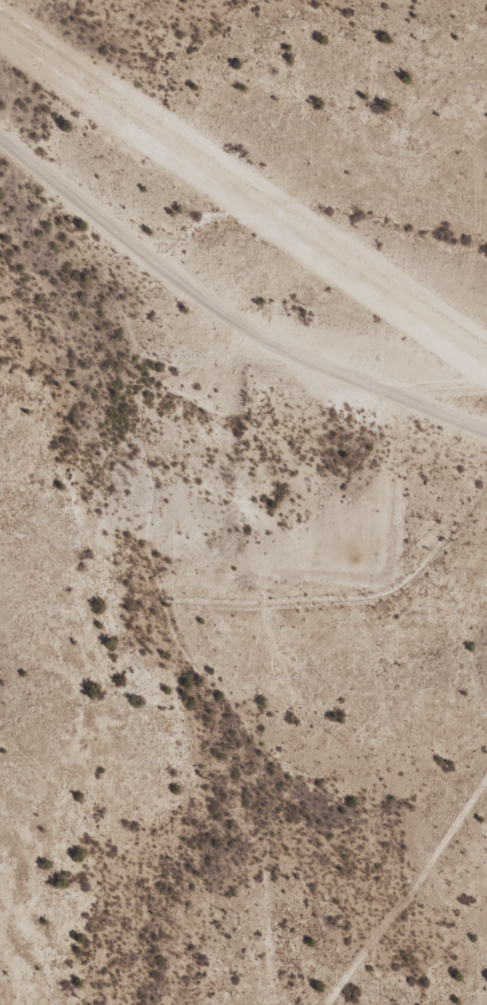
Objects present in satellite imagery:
road: (247, 140)

